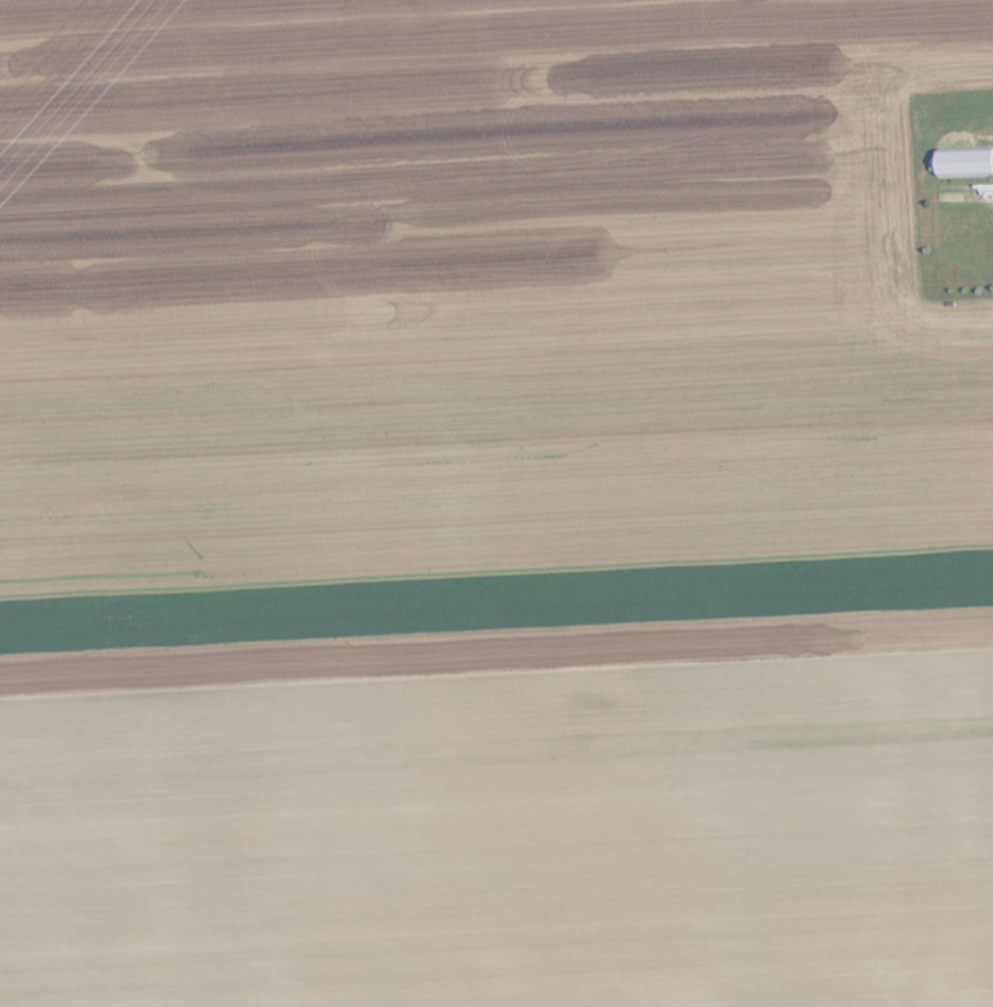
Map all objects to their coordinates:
building: (966, 162)

